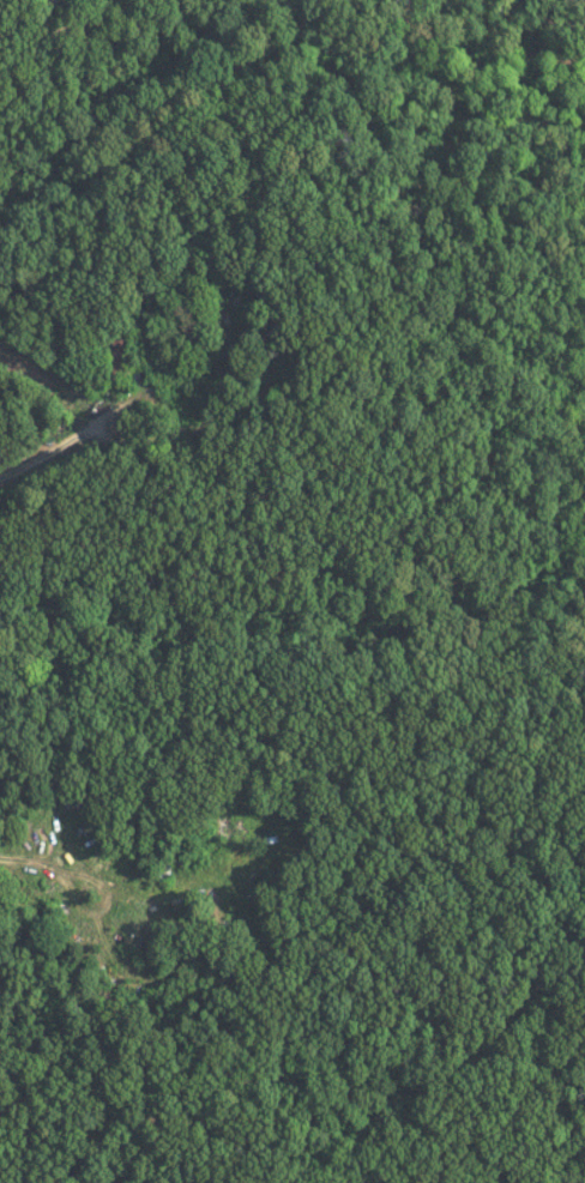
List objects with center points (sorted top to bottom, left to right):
road: (25, 869)
road: (103, 913)

